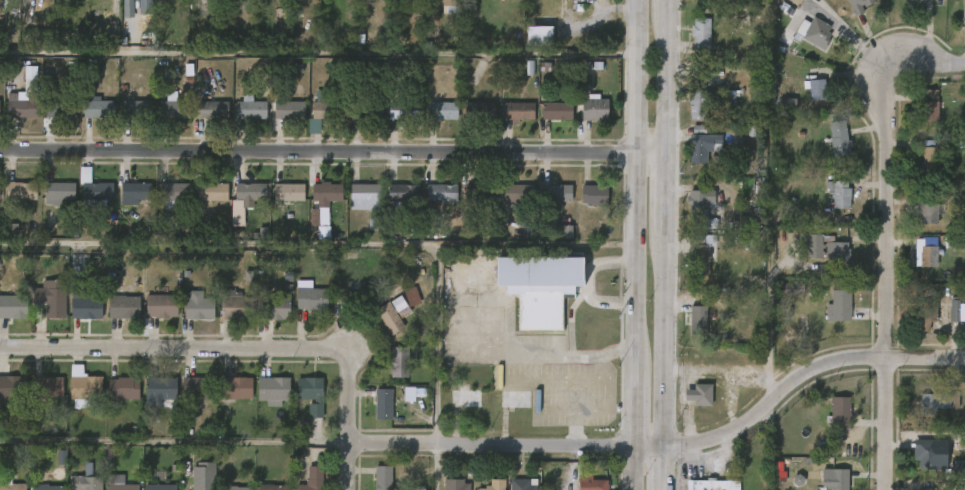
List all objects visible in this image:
building: (572, 0)
building: (762, 0)
building: (26, 1)
building: (488, 1)
building: (912, 1)
building: (92, 2)
building: (589, 4)
building: (447, 5)
building: (698, 5)
building: (857, 5)
road: (667, 7)
building: (134, 9)
building: (437, 11)
building: (962, 11)
building: (813, 31)
building: (701, 33)
building: (539, 36)
building: (803, 44)
building: (689, 45)
building: (527, 46)
road: (316, 53)
road: (926, 62)
building: (30, 79)
road: (667, 85)
building: (814, 88)
building: (19, 90)
building: (806, 101)
building: (701, 103)
building: (928, 105)
building: (20, 107)
building: (174, 107)
building: (60, 108)
building: (97, 108)
building: (137, 108)
building: (250, 108)
building: (479, 108)
building: (595, 108)
building: (212, 109)
building: (290, 110)
building: (327, 110)
building: (366, 110)
building: (442, 110)
building: (558, 110)
building: (404, 111)
building: (518, 111)
building: (686, 117)
building: (919, 117)
building: (11, 119)
building: (86, 119)
building: (163, 119)
building: (49, 120)
building: (126, 120)
building: (583, 120)
building: (239, 121)
building: (308, 121)
building: (202, 122)
building: (278, 122)
building: (392, 122)
building: (431, 122)
building: (468, 122)
building: (361, 123)
building: (545, 123)
building: (506, 124)
building: (840, 138)
building: (704, 146)
building: (827, 151)
road: (333, 152)
building: (931, 156)
building: (692, 158)
building: (960, 160)
building: (918, 172)
road: (631, 184)
building: (91, 188)
building: (21, 190)
building: (56, 191)
building: (171, 191)
building: (209, 191)
building: (247, 191)
building: (286, 191)
building: (840, 191)
building: (132, 192)
building: (401, 192)
building: (440, 192)
building: (478, 192)
building: (516, 192)
building: (555, 192)
building: (324, 194)
building: (592, 194)
road: (667, 194)
building: (363, 196)
building: (83, 199)
building: (12, 202)
building: (163, 202)
building: (125, 203)
building: (699, 203)
building: (48, 204)
building: (201, 204)
building: (277, 204)
building: (239, 205)
building: (392, 205)
building: (430, 205)
building: (468, 205)
building: (507, 205)
building: (545, 205)
building: (827, 205)
building: (583, 206)
building: (354, 208)
building: (314, 211)
building: (929, 213)
building: (918, 225)
road: (336, 243)
building: (829, 248)
building: (925, 253)
building: (803, 258)
building: (701, 261)
building: (825, 263)
building: (917, 263)
building: (690, 271)
road: (885, 275)
road: (587, 282)
building: (540, 290)
building: (349, 292)
building: (308, 297)
building: (48, 299)
building: (85, 305)
building: (158, 305)
building: (195, 305)
building: (838, 305)
building: (12, 306)
building: (121, 306)
building: (233, 306)
building: (272, 307)
building: (400, 308)
building: (300, 309)
building: (335, 309)
building: (41, 310)
building: (927, 315)
building: (75, 317)
building: (223, 317)
building: (150, 318)
building: (187, 318)
building: (387, 318)
building: (827, 318)
building: (7, 319)
building: (113, 319)
building: (267, 320)
building: (698, 320)
building: (942, 322)
building: (961, 324)
road: (769, 327)
building: (915, 331)
building: (686, 332)
road: (666, 340)
road: (216, 348)
road: (563, 357)
building: (397, 362)
road: (716, 370)
building: (388, 374)
road: (807, 376)
building: (47, 387)
building: (84, 387)
building: (11, 388)
building: (123, 388)
building: (198, 388)
building: (236, 388)
building: (159, 389)
building: (273, 390)
building: (310, 395)
building: (73, 396)
building: (689, 396)
building: (463, 397)
building: (37, 399)
building: (227, 399)
building: (513, 399)
road: (730, 399)
building: (112, 400)
building: (150, 400)
building: (185, 400)
building: (262, 402)
building: (937, 402)
building: (381, 404)
building: (300, 406)
building: (692, 406)
road: (631, 408)
building: (675, 409)
road: (600, 410)
building: (837, 412)
building: (927, 413)
building: (372, 415)
building: (828, 423)
road: (174, 442)
road: (490, 445)
road: (648, 447)
building: (926, 457)
building: (914, 463)
road: (348, 467)
road: (630, 468)
road: (665, 468)
building: (383, 477)
building: (310, 478)
building: (85, 479)
building: (947, 479)
building: (837, 480)
building: (9, 482)
building: (119, 483)
building: (372, 483)
building: (456, 484)
building: (495, 484)
building: (523, 484)
building: (594, 484)
building: (714, 484)
building: (823, 485)
building: (46, 487)
building: (270, 487)
building: (68, 488)
building: (105, 488)
building: (160, 488)
building: (232, 488)
building: (573, 488)
building: (924, 488)

